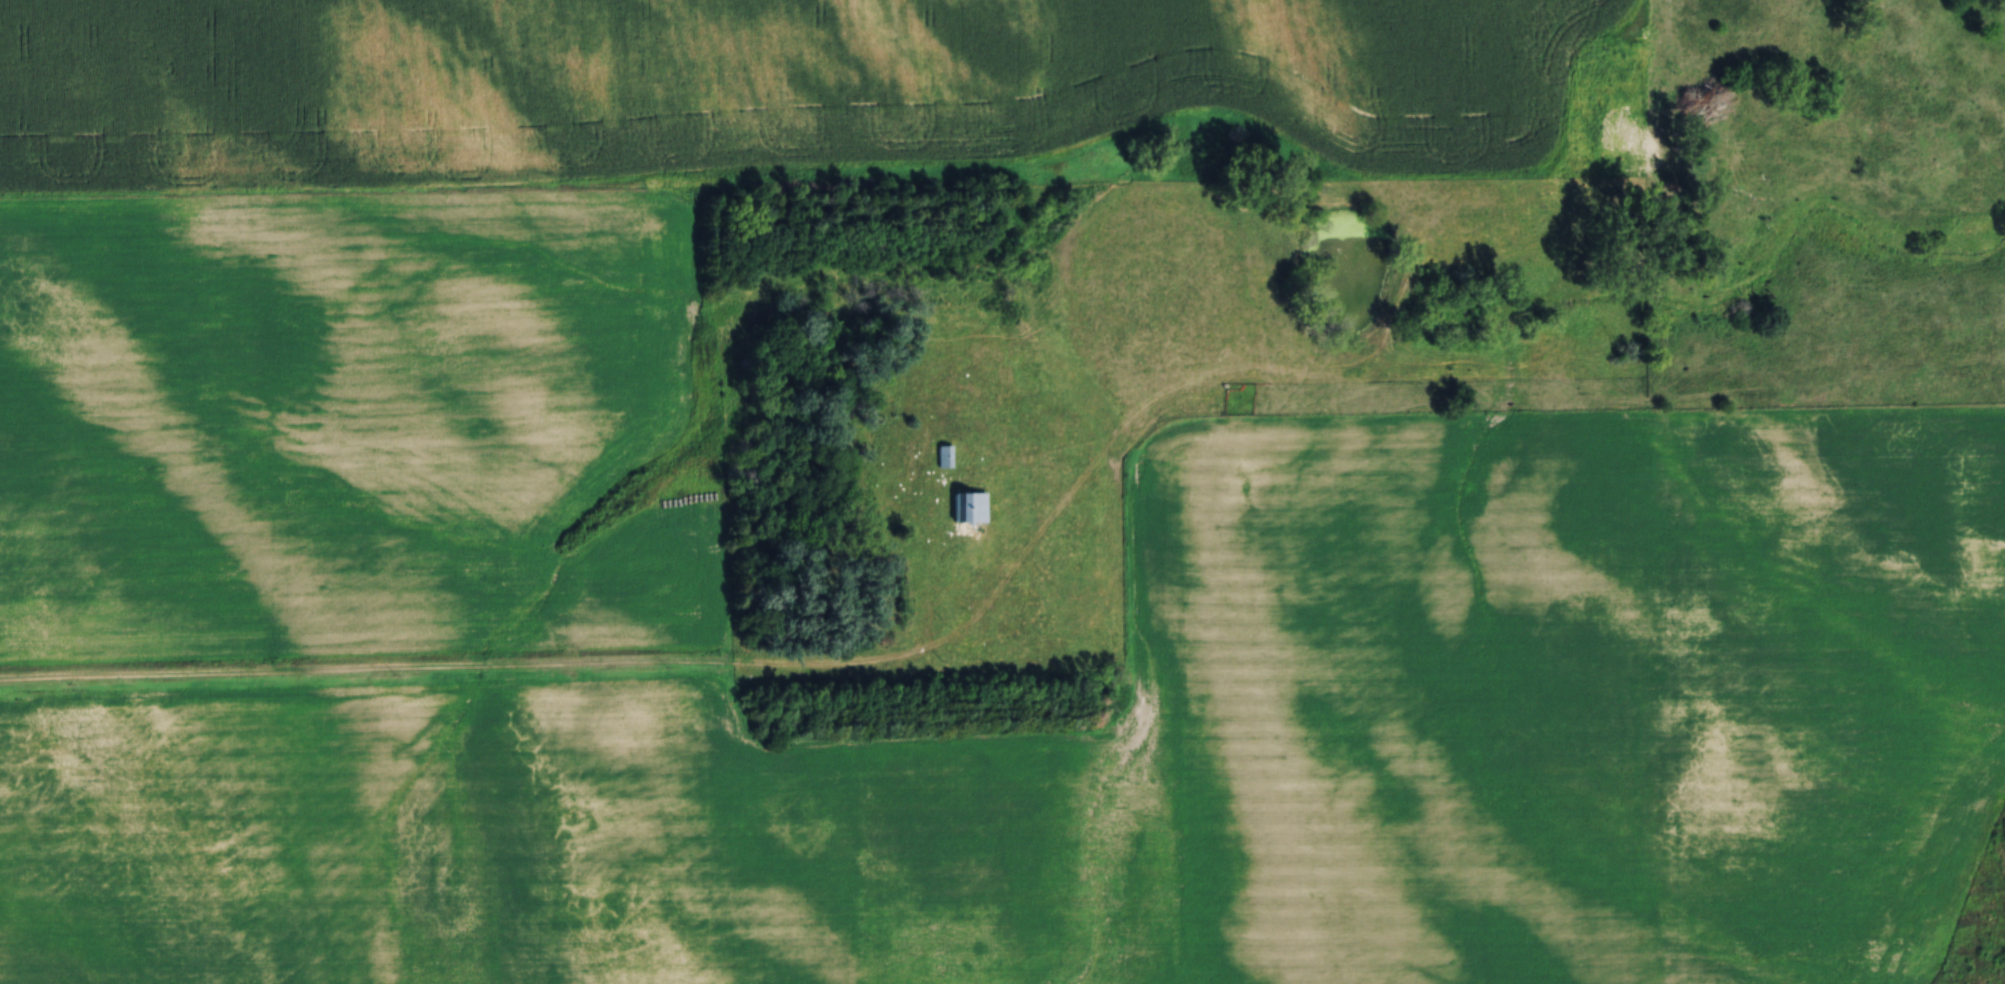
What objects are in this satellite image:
building: (969, 508)
road: (445, 669)

